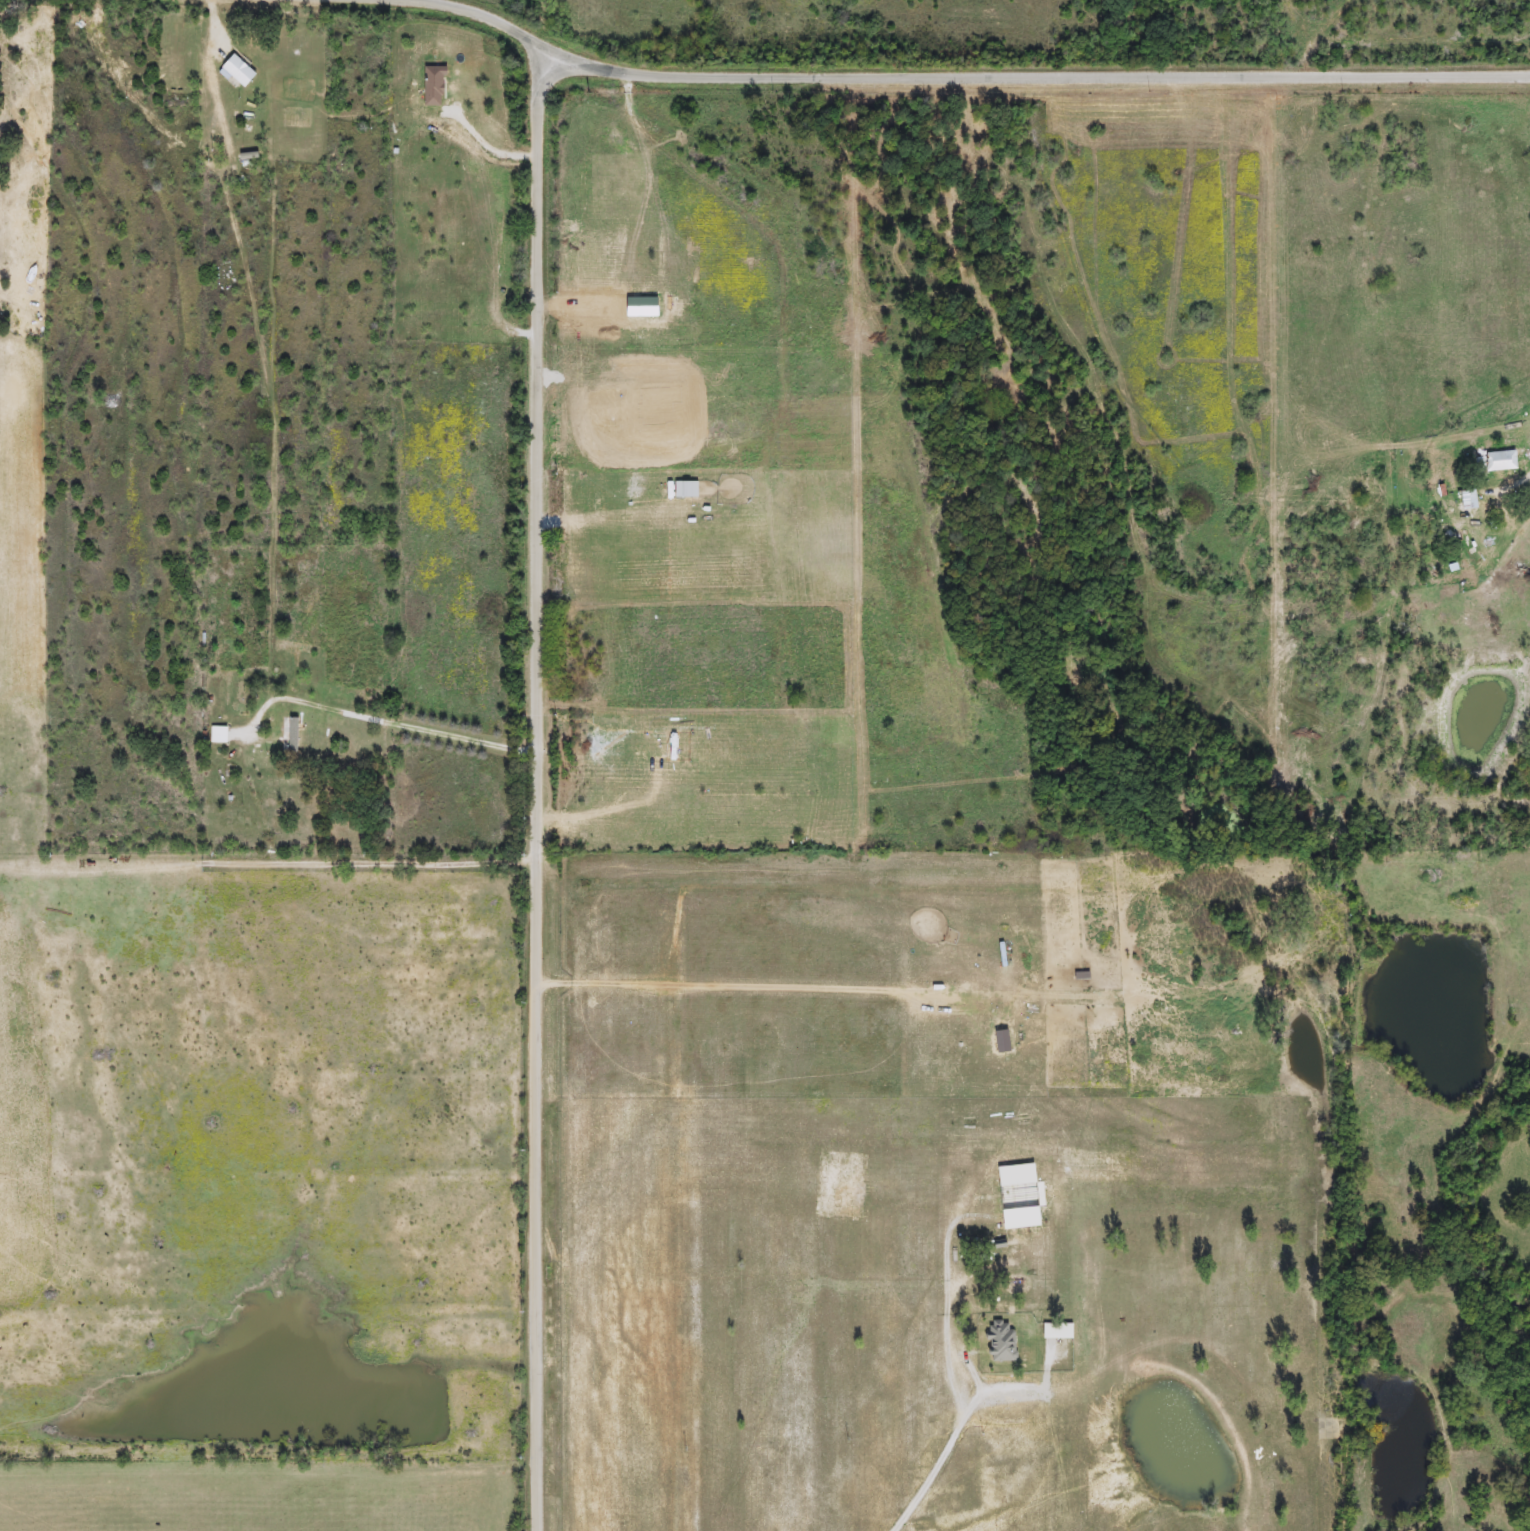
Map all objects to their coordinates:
building: (236, 70)
road: (532, 72)
road: (956, 76)
building: (1489, 461)
road: (608, 519)
road: (390, 722)
building: (216, 735)
building: (291, 735)
road: (538, 782)
road: (609, 809)
airport: (945, 1195)
building: (998, 1341)

